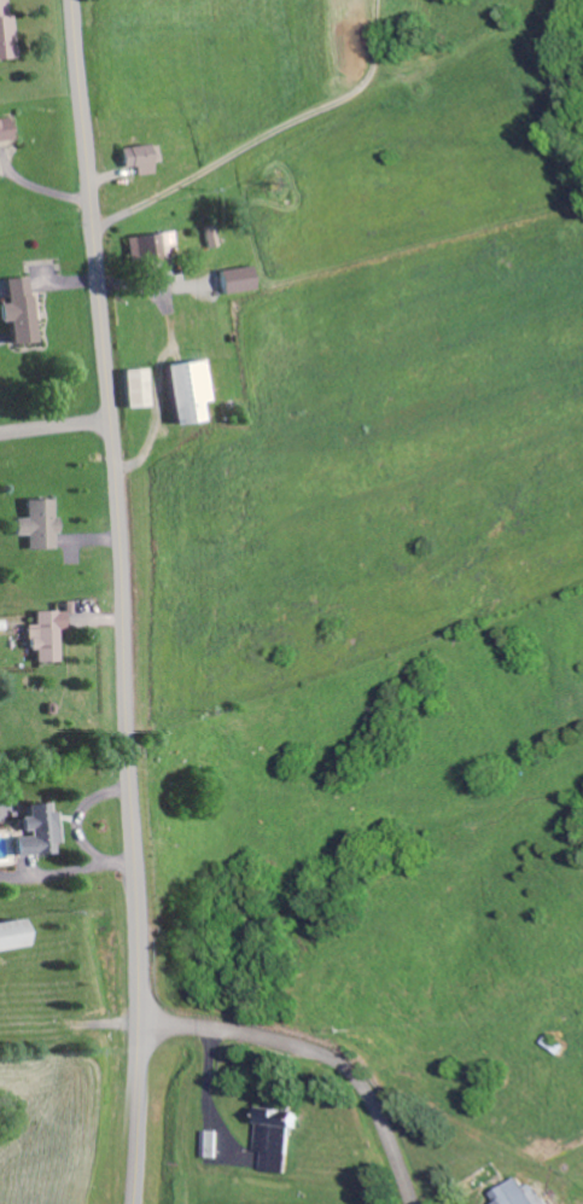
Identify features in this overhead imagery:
building: (6, 31)
building: (5, 128)
building: (136, 157)
building: (208, 234)
building: (148, 246)
building: (237, 279)
building: (22, 309)
building: (135, 388)
building: (186, 390)
road: (54, 430)
building: (37, 523)
road: (121, 600)
building: (41, 831)
building: (13, 935)
road: (319, 1052)
building: (280, 1136)
building: (519, 1193)

